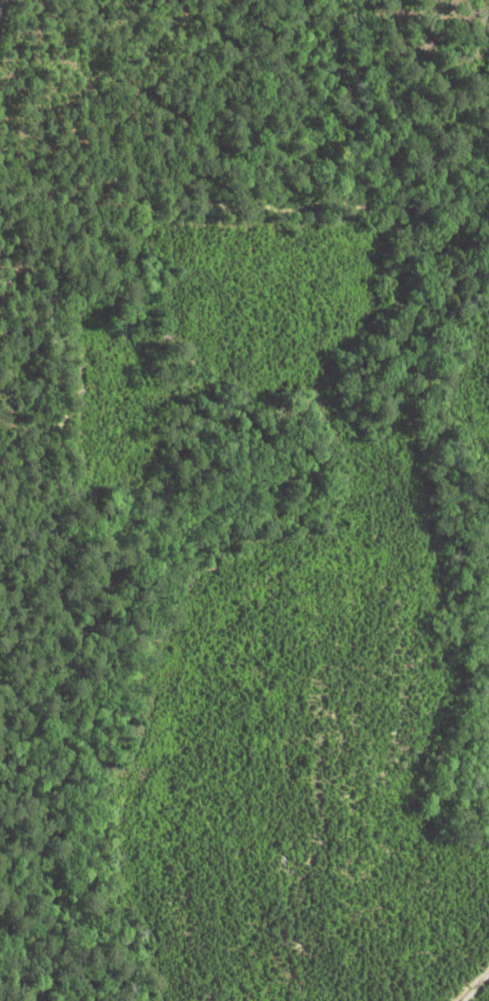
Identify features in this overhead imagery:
road: (469, 979)

